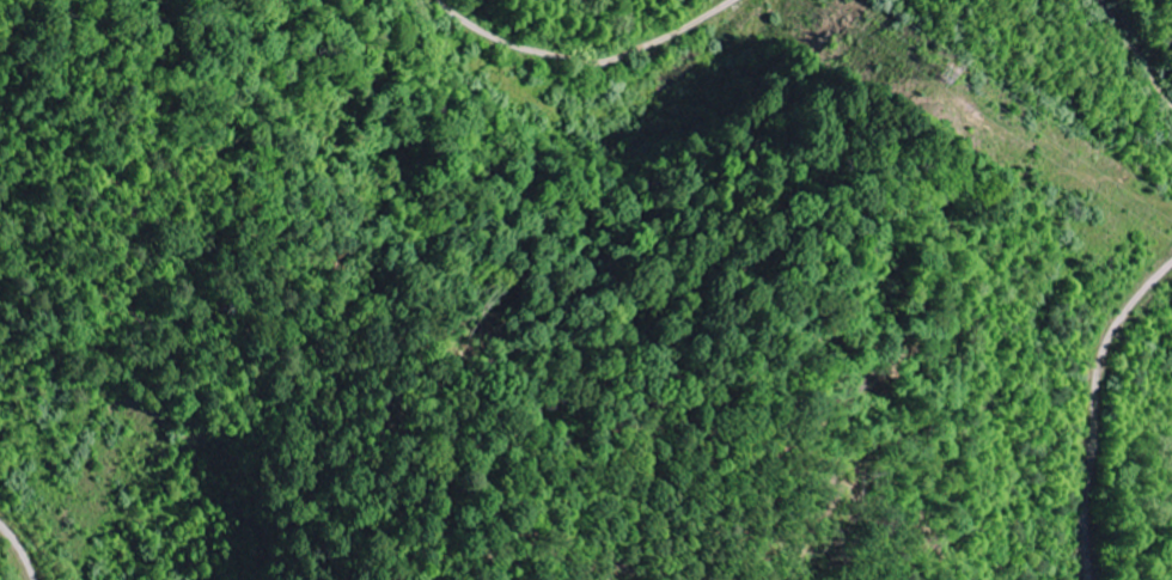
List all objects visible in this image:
road: (1110, 60)

